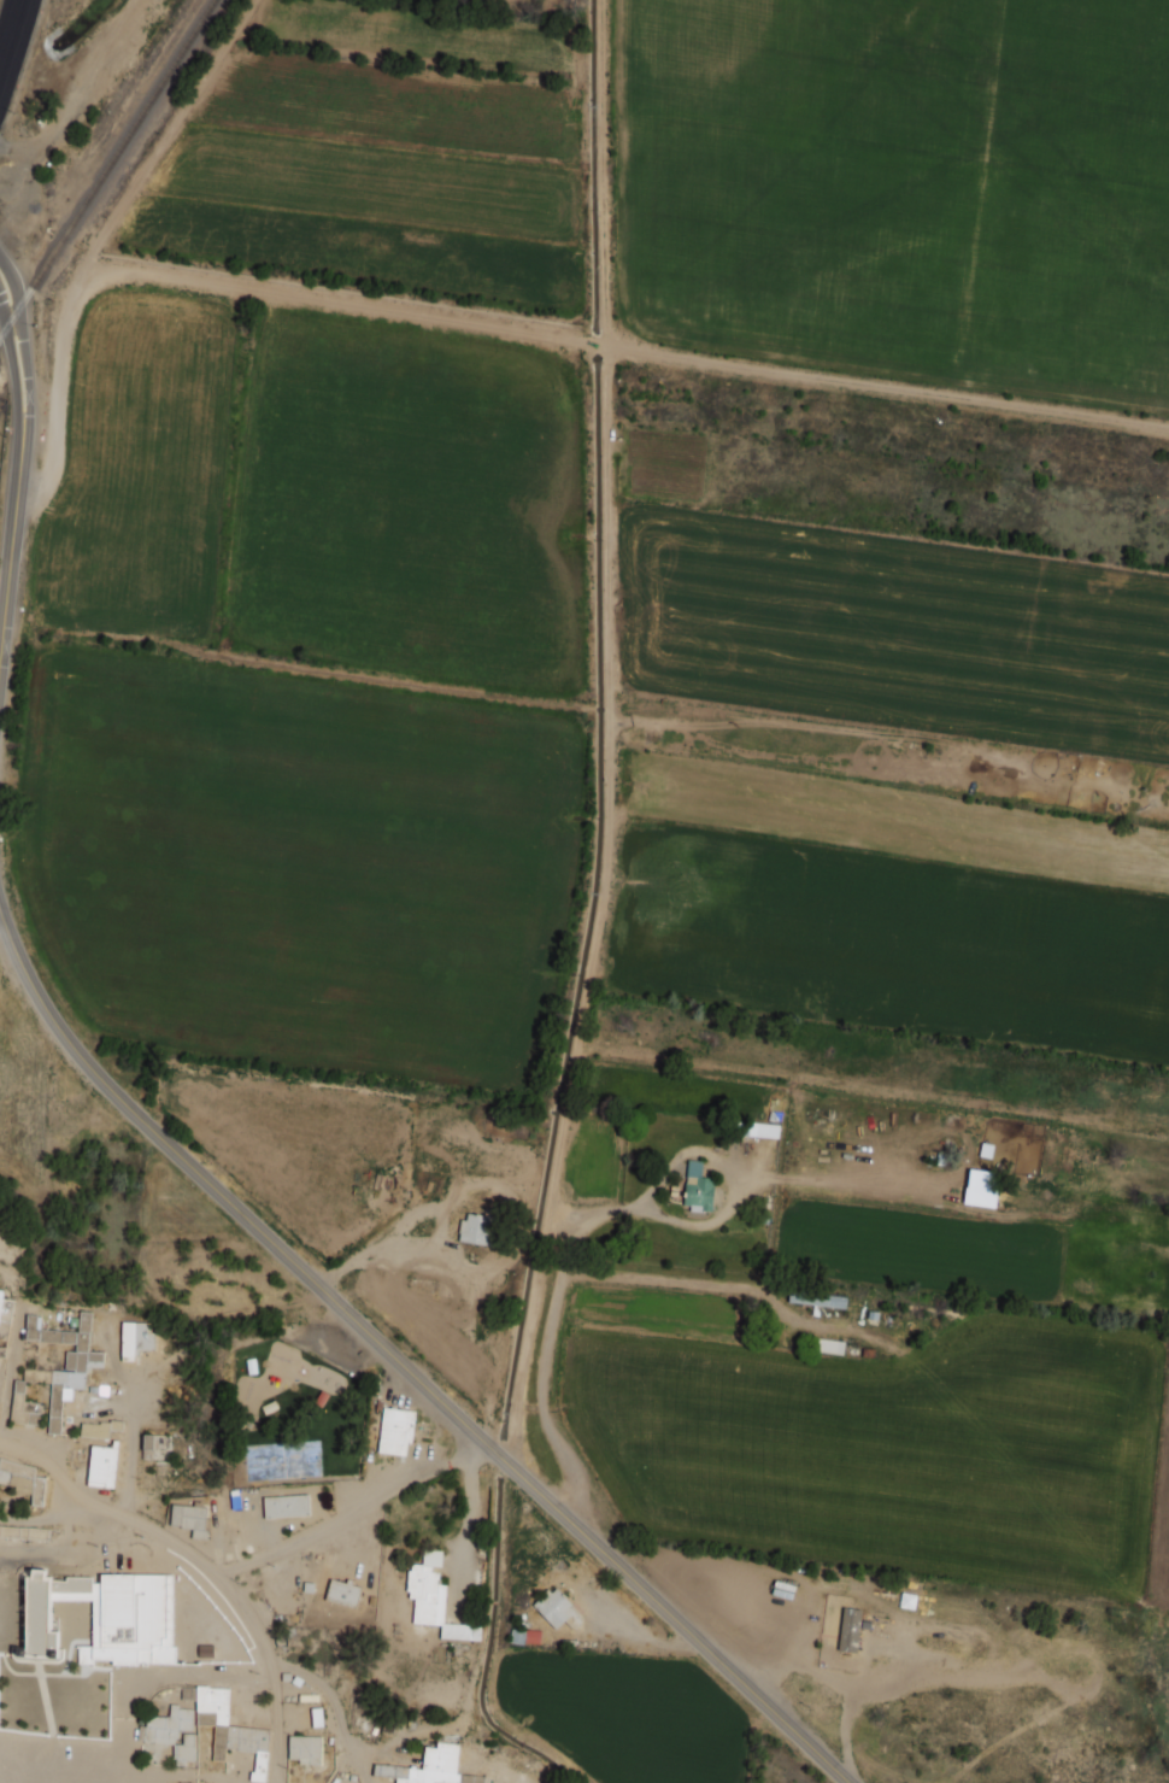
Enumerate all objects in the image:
road: (10, 30)
railway: (106, 166)
road: (19, 462)
building: (762, 1130)
building: (986, 1149)
building: (980, 1179)
building: (697, 1187)
building: (475, 1228)
building: (817, 1298)
building: (4, 1324)
building: (136, 1338)
building: (829, 1345)
building: (65, 1360)
road: (10, 1363)
road: (401, 1365)
building: (36, 1376)
building: (24, 1406)
building: (116, 1424)
building: (94, 1430)
building: (395, 1430)
road: (129, 1462)
building: (101, 1466)
building: (23, 1479)
building: (286, 1506)
road: (349, 1511)
building: (189, 1518)
road: (202, 1564)
building: (342, 1593)
building: (434, 1597)
building: (557, 1608)
building: (46, 1623)
building: (850, 1629)
building: (205, 1649)
road: (239, 1673)
building: (228, 1726)
building: (174, 1731)
building: (304, 1748)
building: (446, 1769)
road: (151, 1771)

